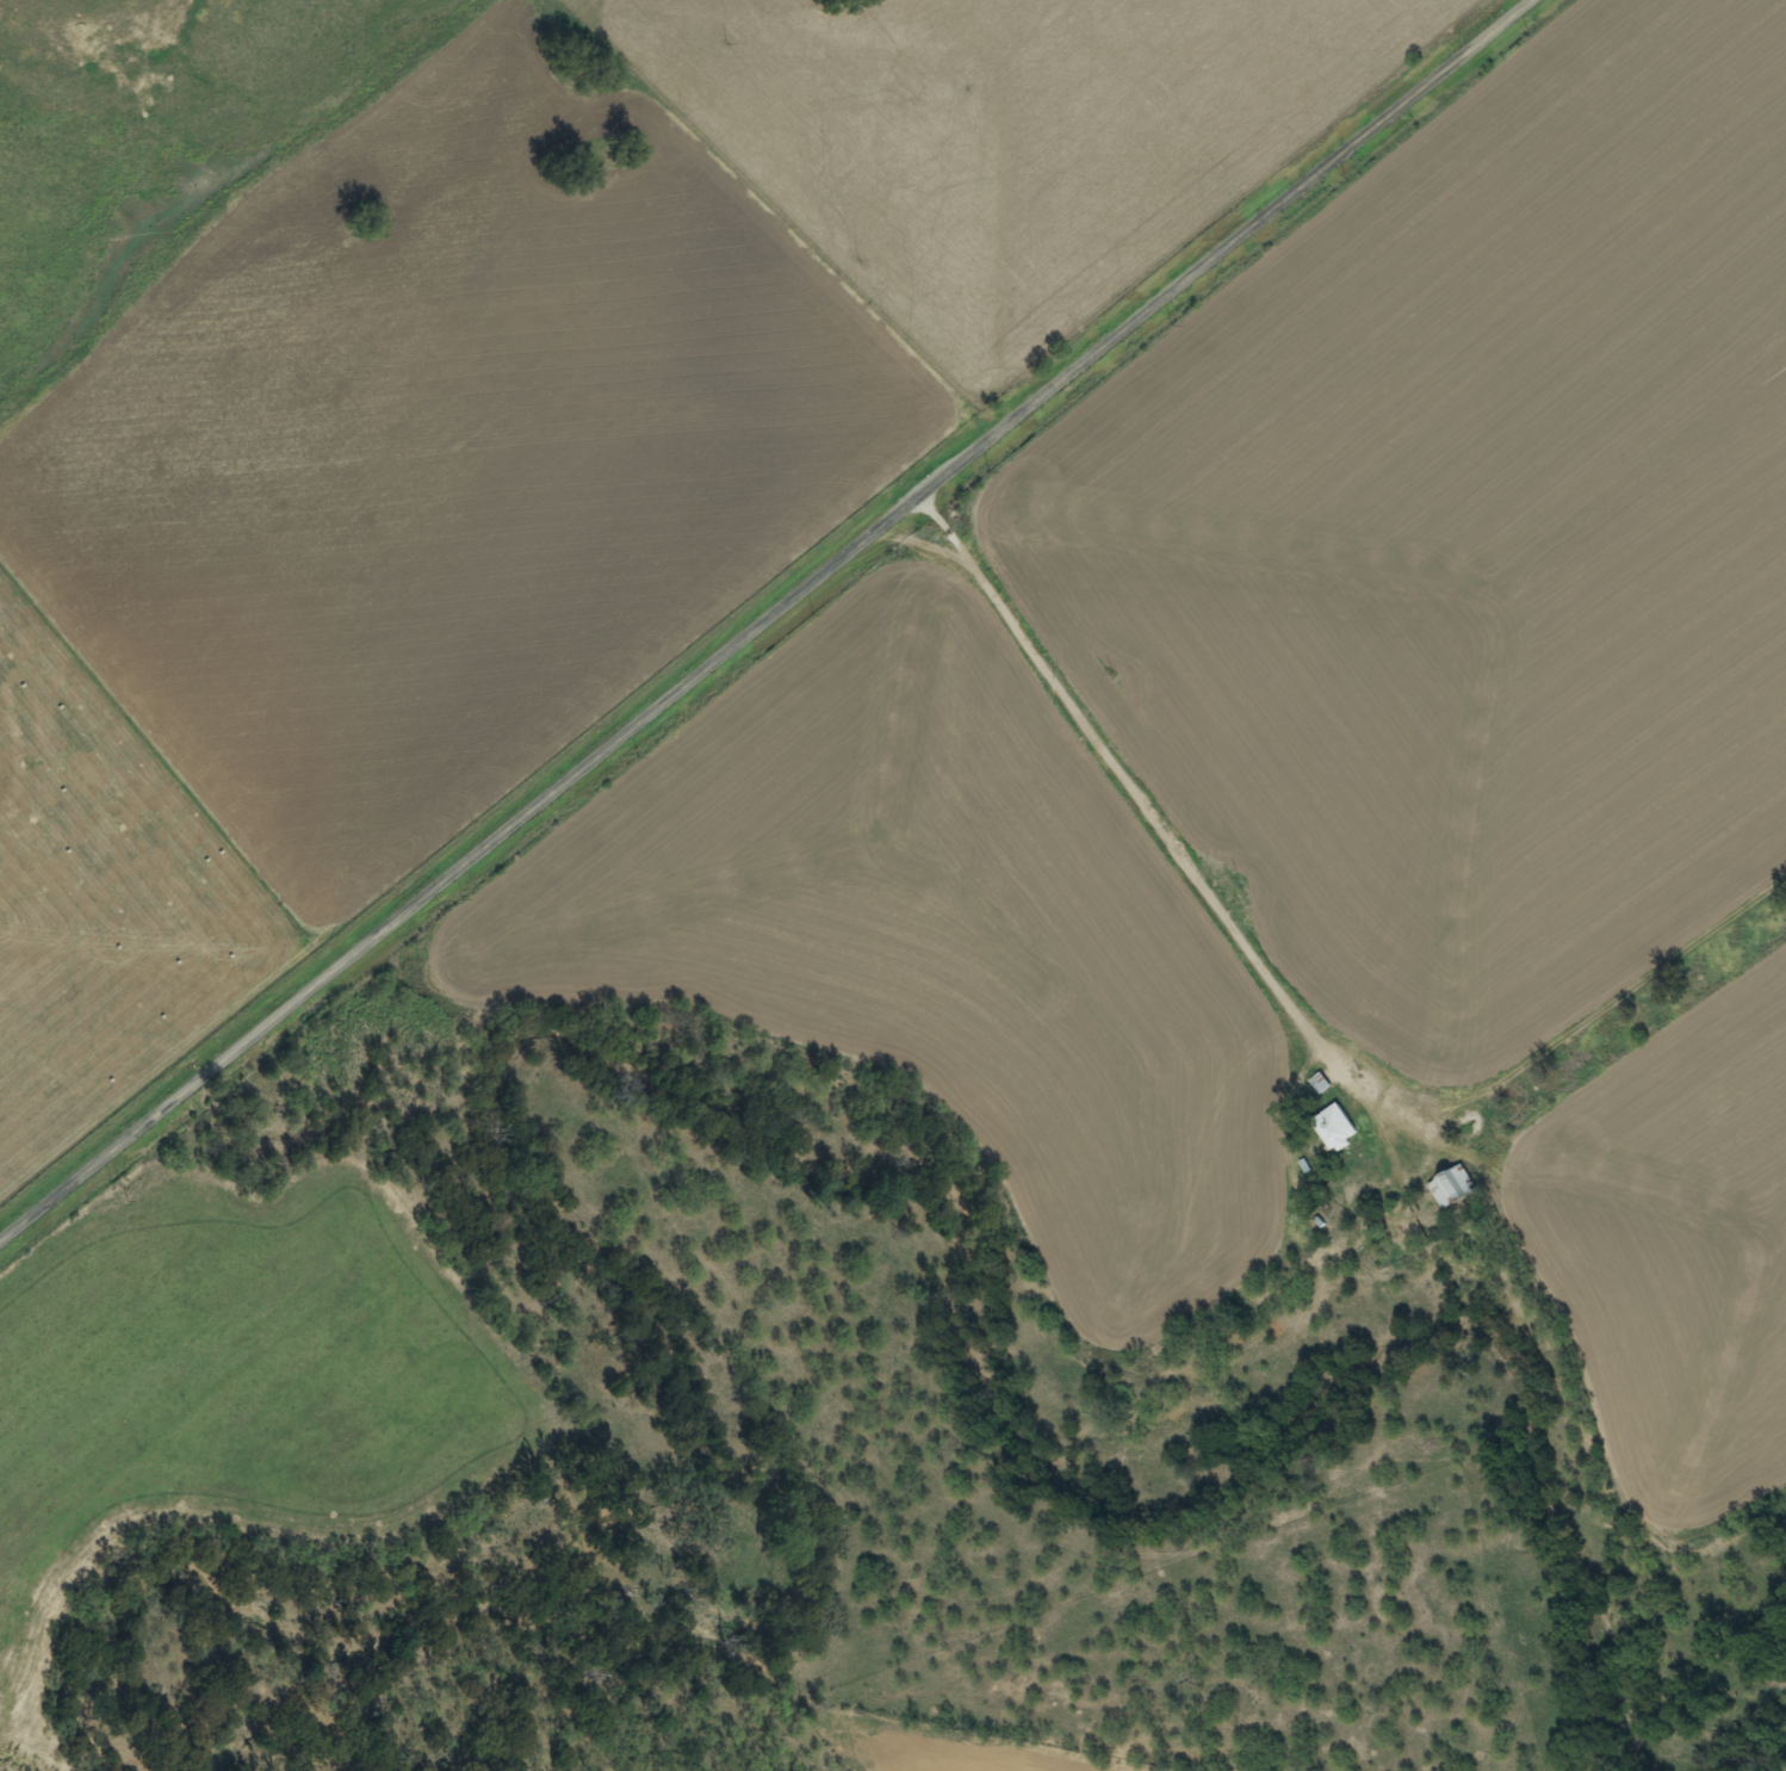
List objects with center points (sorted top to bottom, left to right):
road: (763, 620)
road: (1121, 778)
building: (1315, 1084)
building: (1329, 1129)
building: (1446, 1188)

